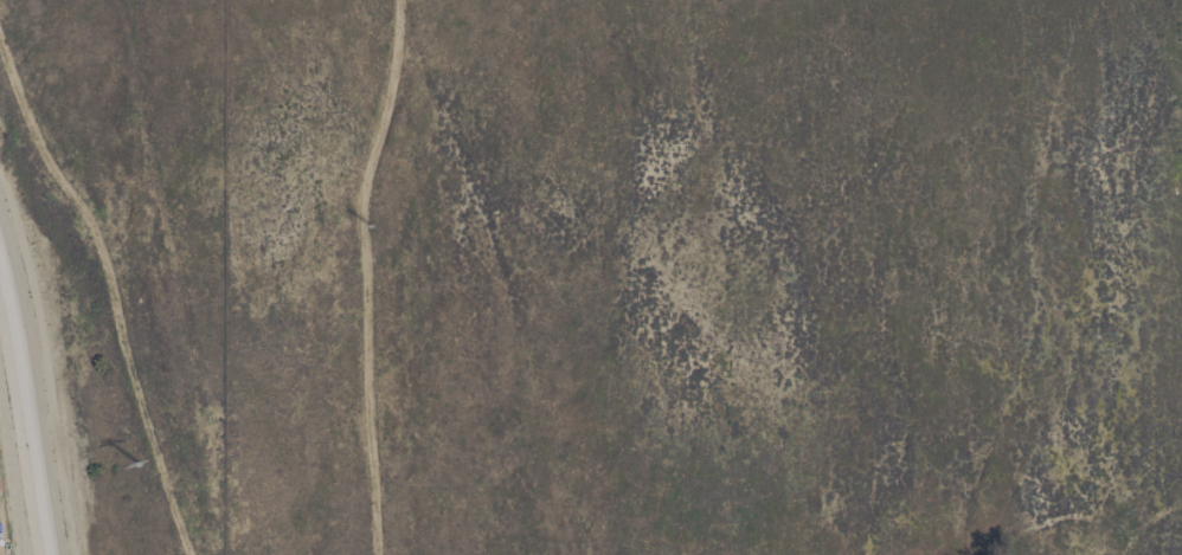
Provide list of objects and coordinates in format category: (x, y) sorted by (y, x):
wastewater plant: (4, 530)

